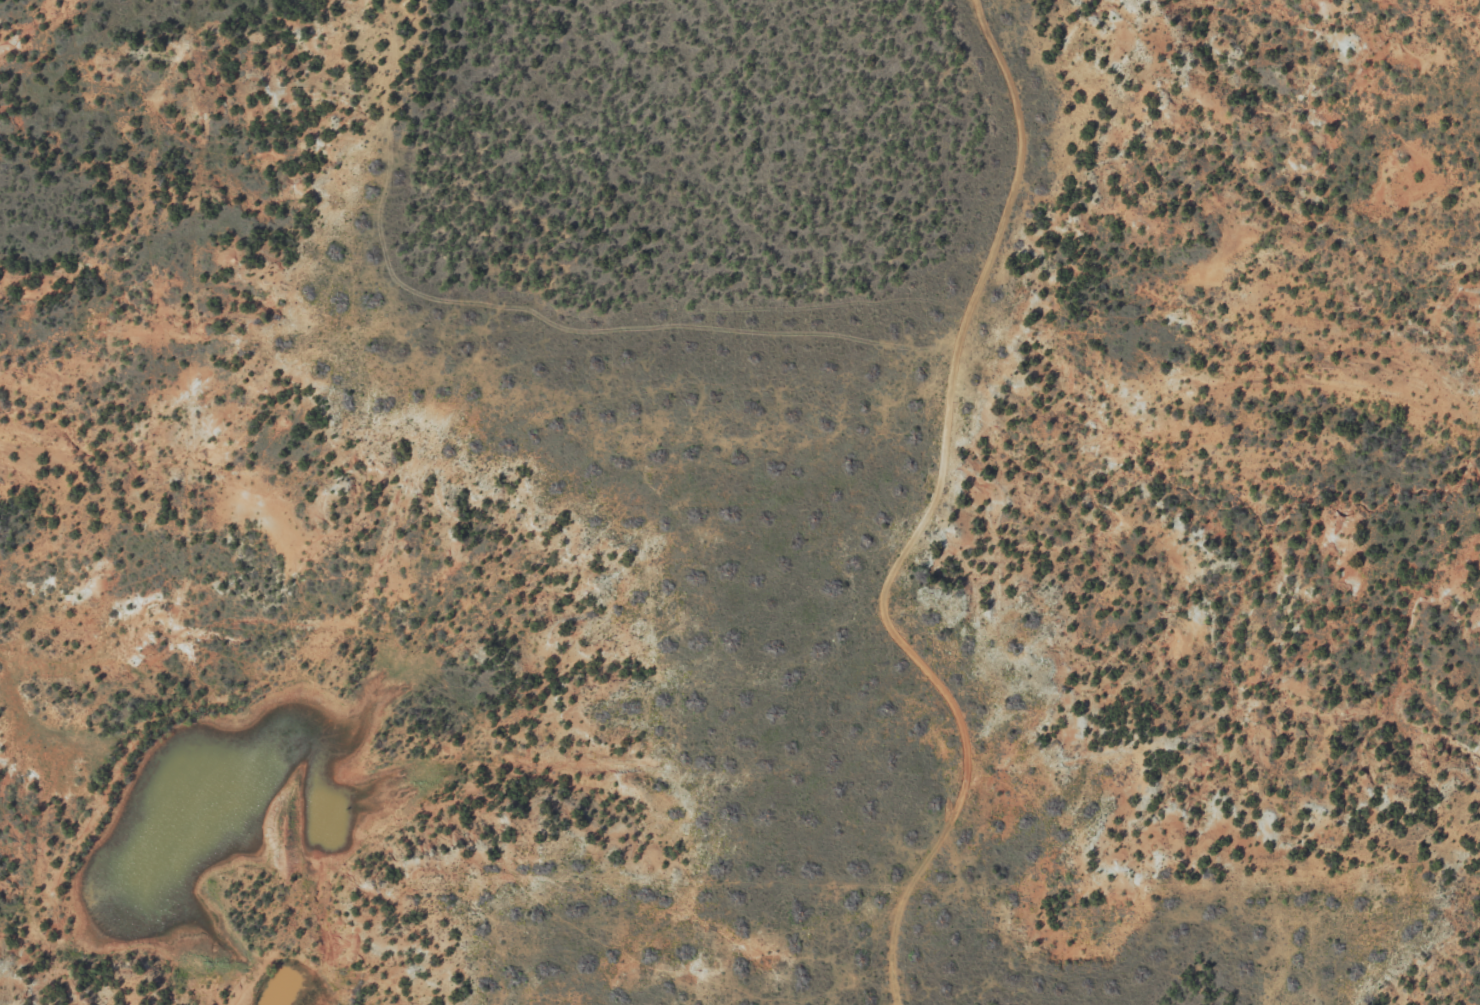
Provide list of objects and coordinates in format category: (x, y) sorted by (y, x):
road: (889, 538)
road: (888, 970)

